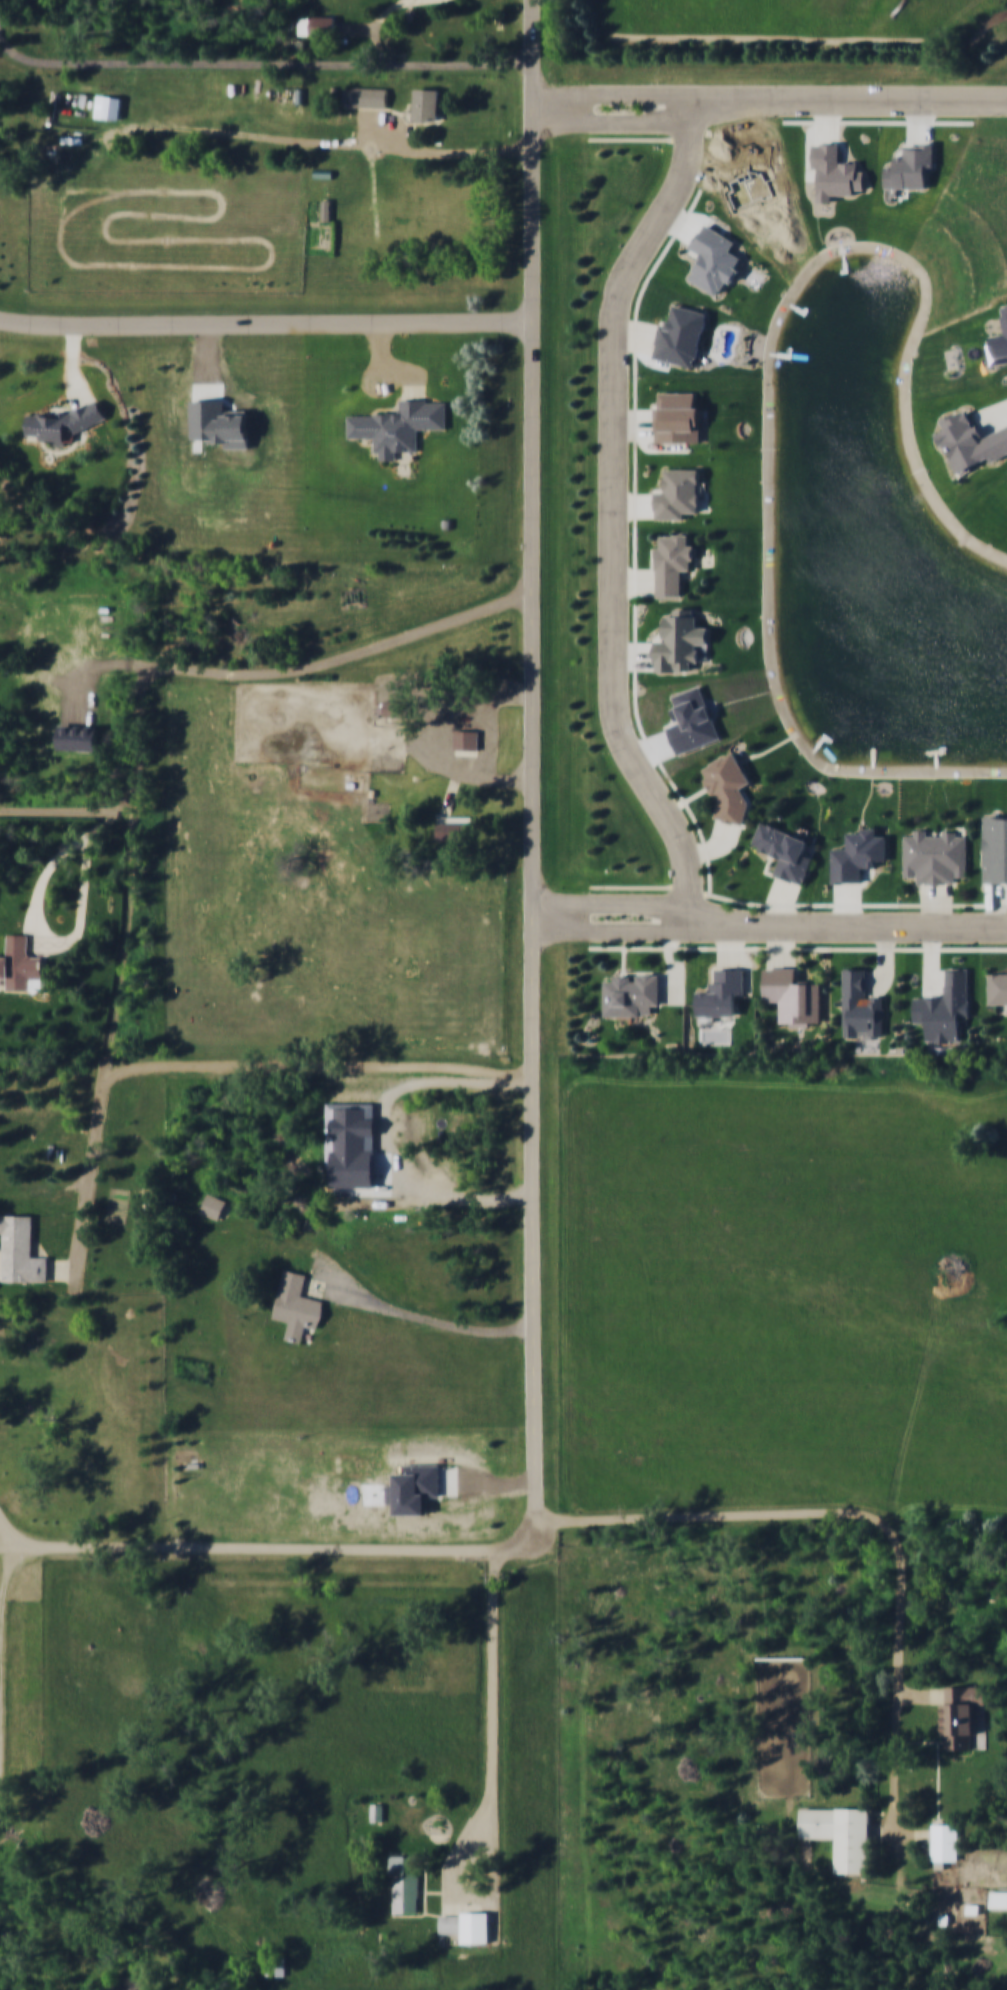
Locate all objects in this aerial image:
road: (393, 7)
building: (319, 27)
road: (788, 44)
road: (197, 63)
road: (428, 64)
road: (612, 91)
building: (368, 98)
road: (847, 103)
building: (430, 106)
building: (112, 109)
road: (615, 120)
road: (831, 122)
road: (828, 125)
road: (375, 127)
road: (314, 144)
building: (836, 176)
road: (267, 323)
building: (680, 335)
road: (380, 349)
road: (71, 368)
road: (407, 373)
road: (991, 415)
building: (677, 421)
building: (221, 422)
building: (68, 425)
road: (633, 427)
building: (401, 429)
road: (636, 438)
building: (972, 445)
building: (677, 493)
road: (611, 506)
building: (671, 563)
road: (633, 579)
road: (22, 625)
building: (679, 646)
road: (633, 659)
road: (286, 671)
building: (396, 708)
building: (79, 736)
building: (467, 738)
road: (535, 777)
building: (728, 786)
road: (68, 811)
building: (454, 828)
road: (700, 831)
road: (717, 850)
building: (784, 850)
building: (935, 854)
building: (995, 854)
building: (857, 861)
road: (785, 898)
road: (611, 899)
road: (848, 904)
road: (939, 904)
road: (799, 905)
road: (996, 907)
road: (845, 920)
road: (612, 928)
road: (734, 940)
road: (786, 941)
road: (55, 943)
road: (798, 948)
road: (676, 959)
road: (931, 959)
road: (893, 964)
building: (23, 967)
road: (120, 978)
building: (997, 985)
building: (630, 992)
building: (719, 992)
building: (792, 994)
building: (860, 1005)
building: (944, 1006)
road: (320, 1064)
building: (354, 1144)
building: (216, 1210)
road: (300, 1249)
building: (23, 1255)
road: (66, 1269)
building: (300, 1310)
road: (420, 1317)
building: (3, 1329)
building: (416, 1490)
road: (884, 1524)
road: (23, 1541)
road: (282, 1546)
road: (27, 1549)
road: (21, 1567)
road: (925, 1694)
building: (966, 1713)
road: (493, 1720)
building: (379, 1811)
road: (0, 1820)
building: (846, 1833)
building: (949, 1840)
building: (409, 1882)
building: (470, 1925)

